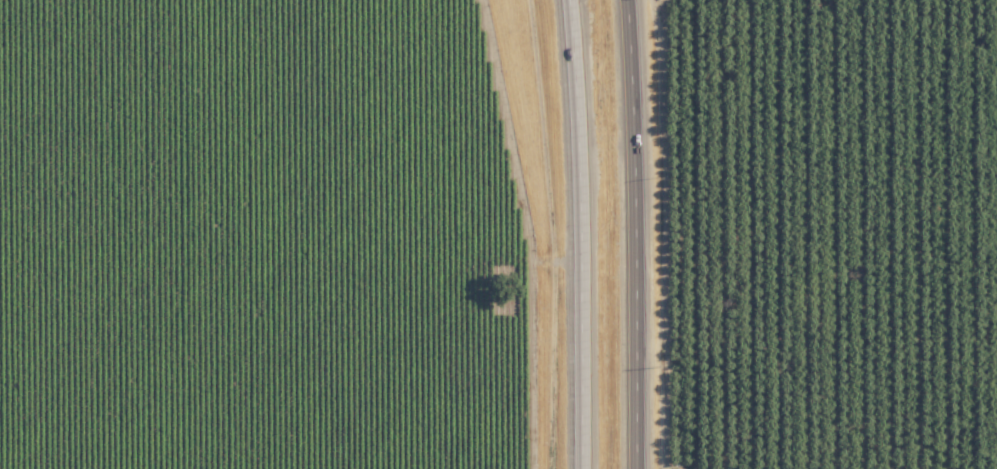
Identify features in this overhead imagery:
road: (585, 234)
road: (648, 234)

